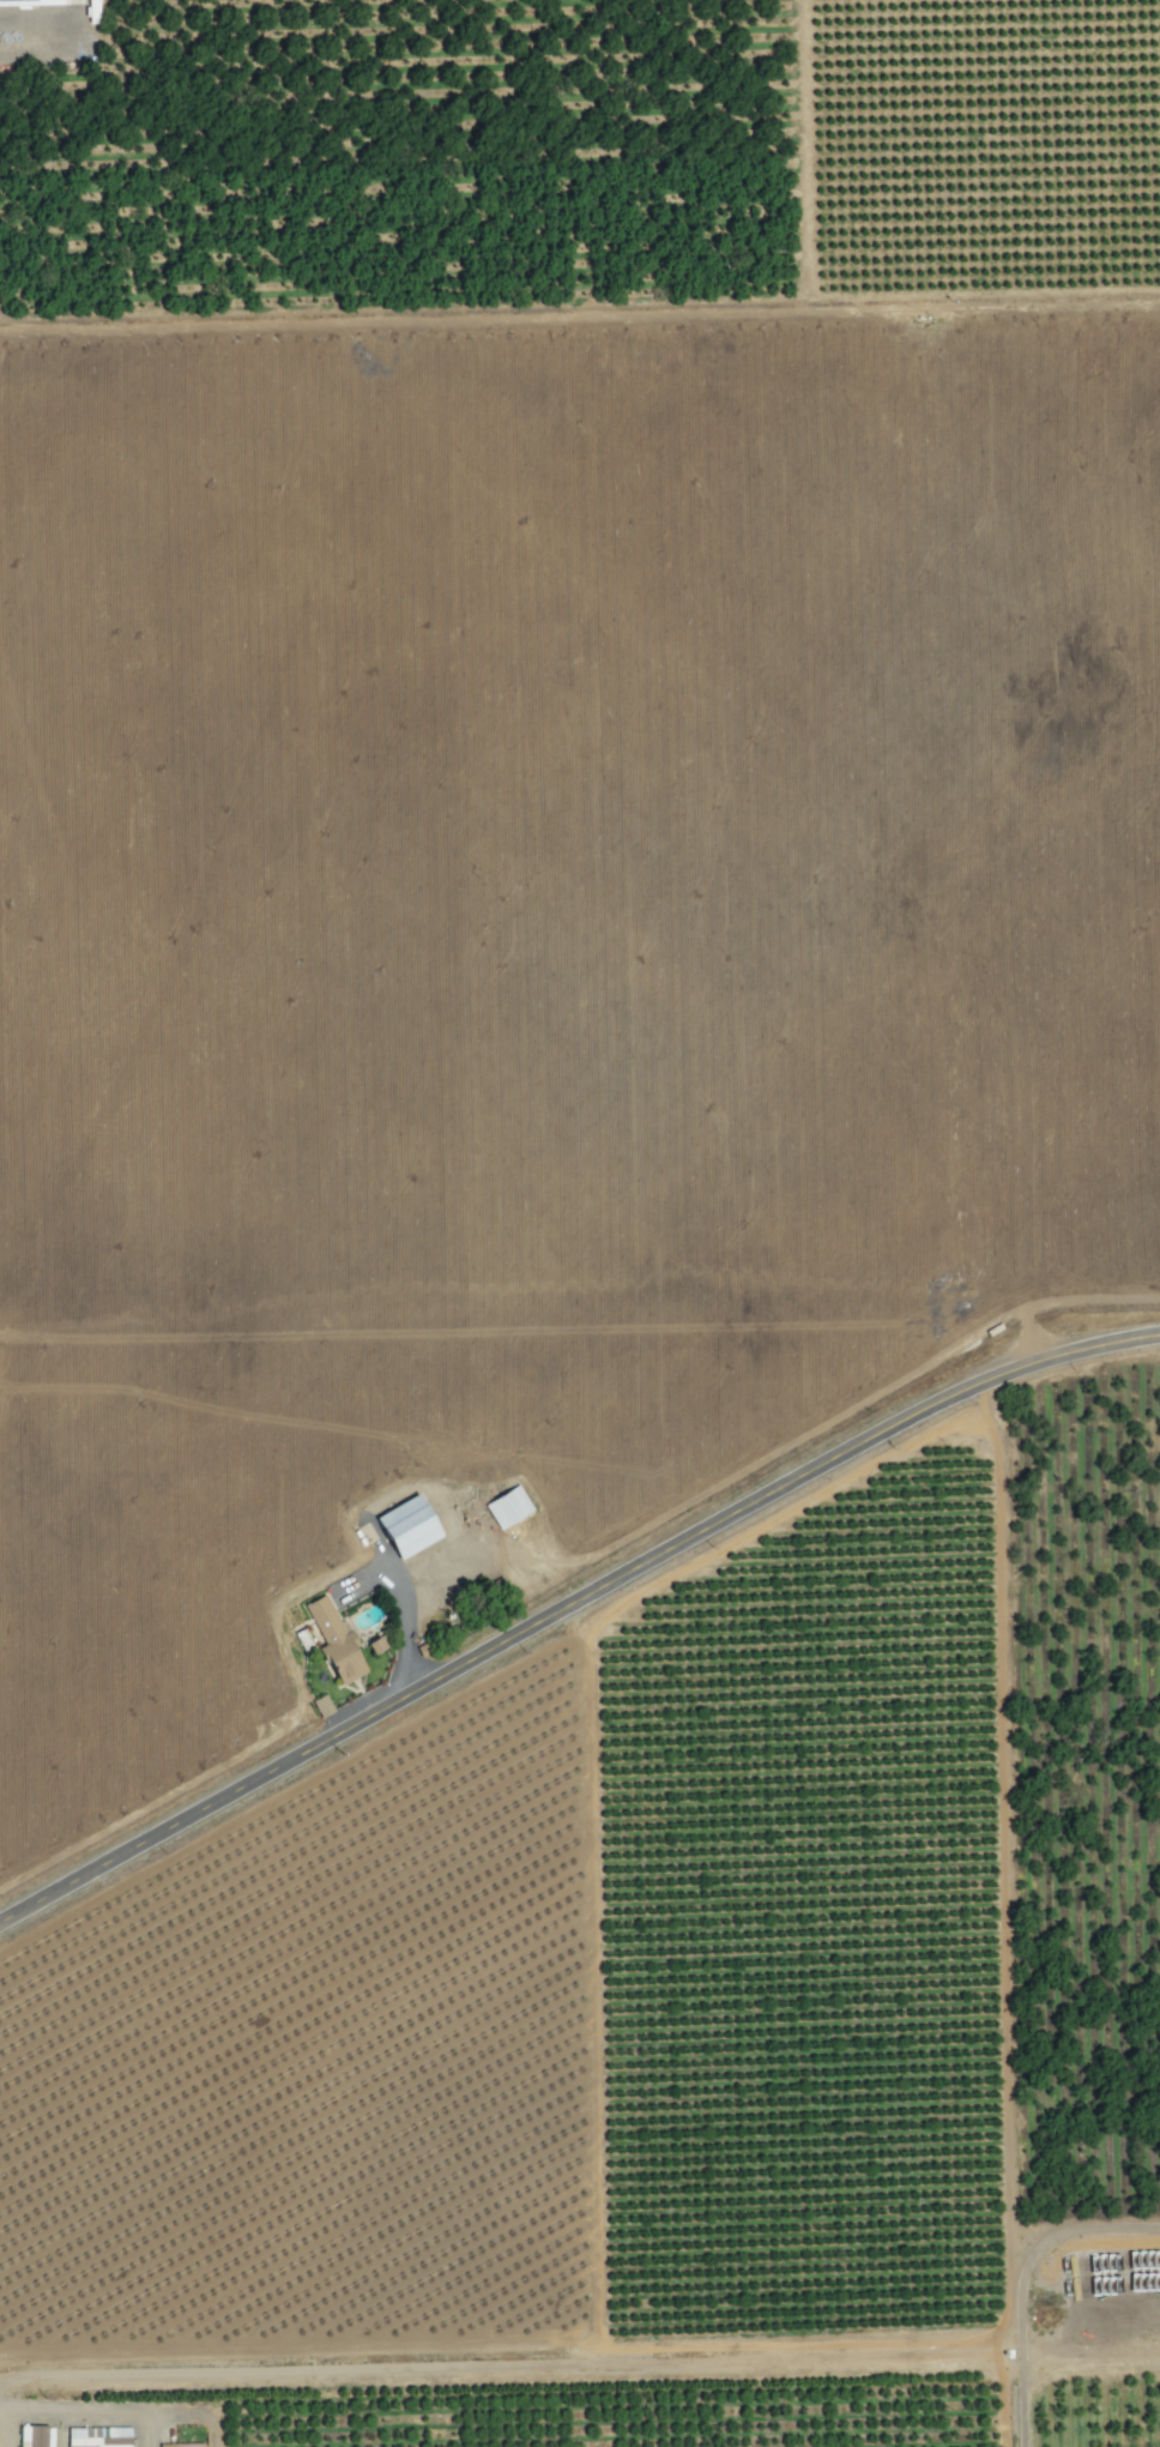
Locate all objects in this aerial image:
building: (28, 1)
road: (43, 26)
building: (507, 1506)
building: (404, 1527)
road: (403, 1596)
road: (569, 1599)
building: (333, 1641)
building: (373, 1645)
building: (320, 1705)
road: (1029, 2285)
road: (2, 2404)
building: (35, 2435)
building: (97, 2436)
building: (180, 2445)

